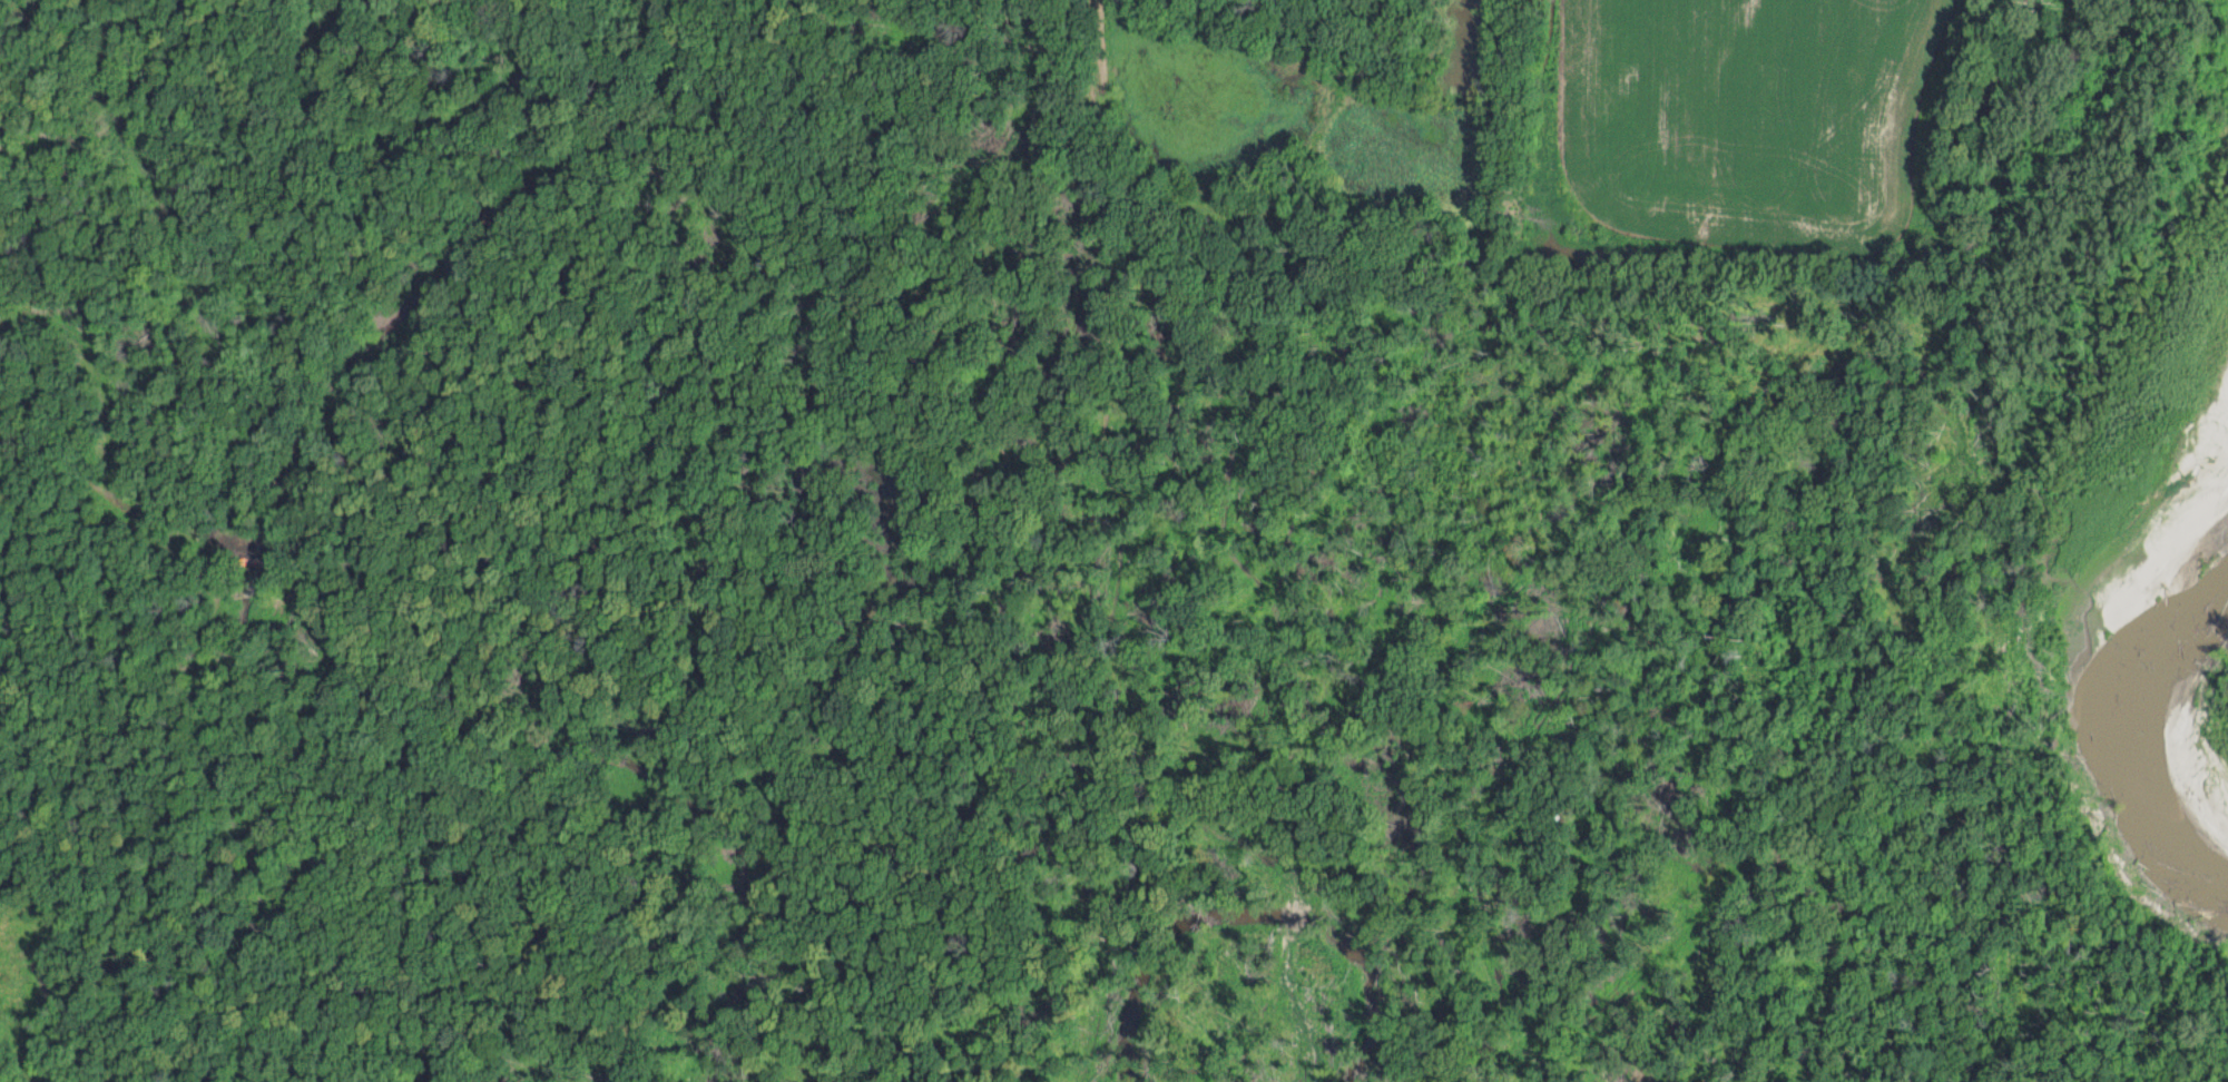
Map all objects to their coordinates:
river: (2077, 559)

